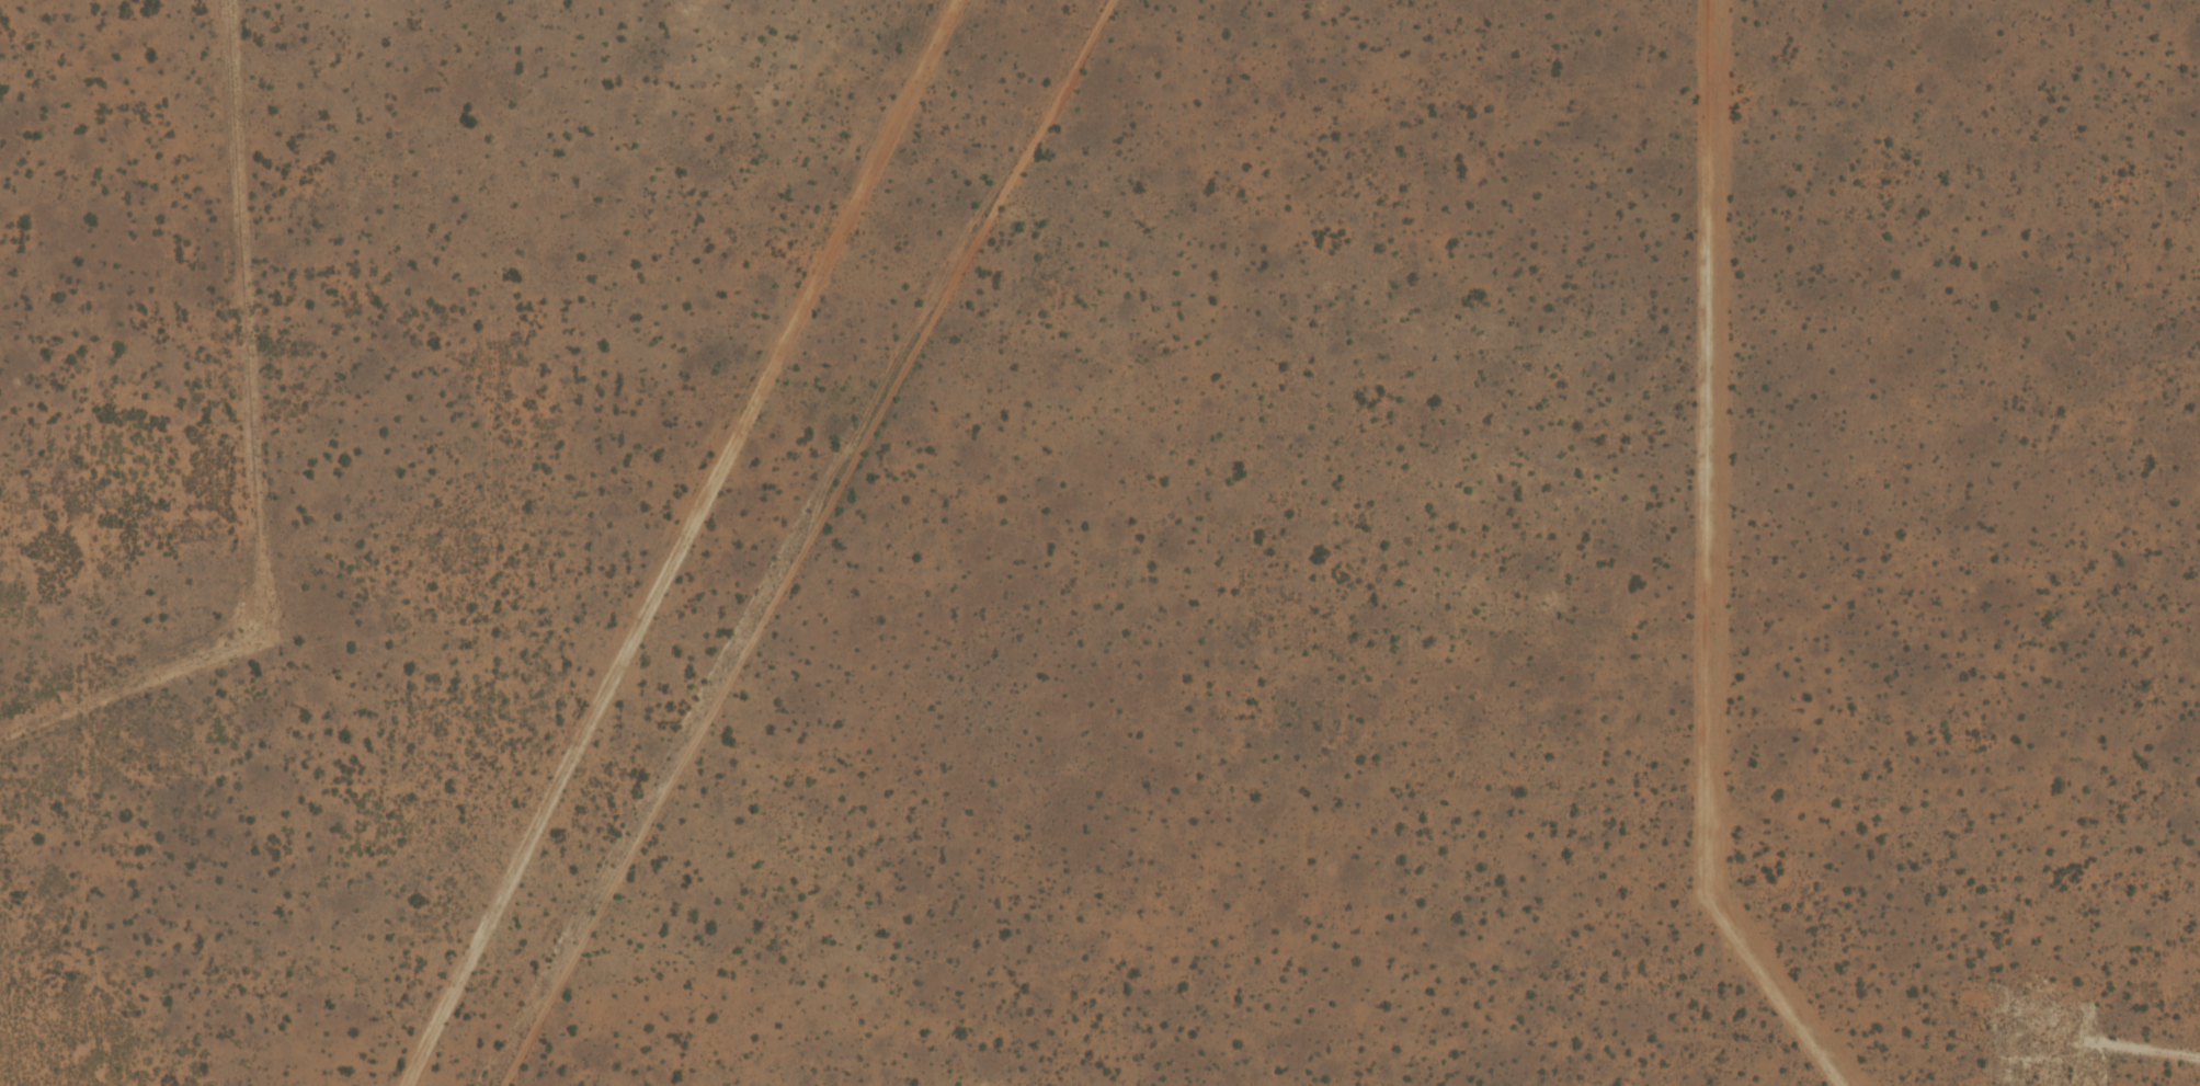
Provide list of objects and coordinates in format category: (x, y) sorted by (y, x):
road: (2127, 1039)

